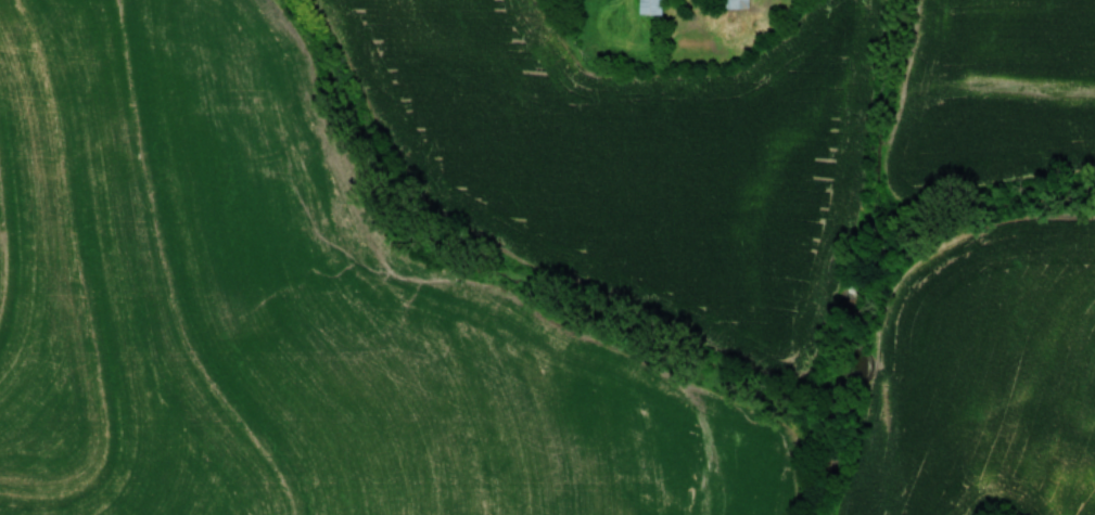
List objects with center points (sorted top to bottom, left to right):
building: (727, 3)
building: (646, 5)

